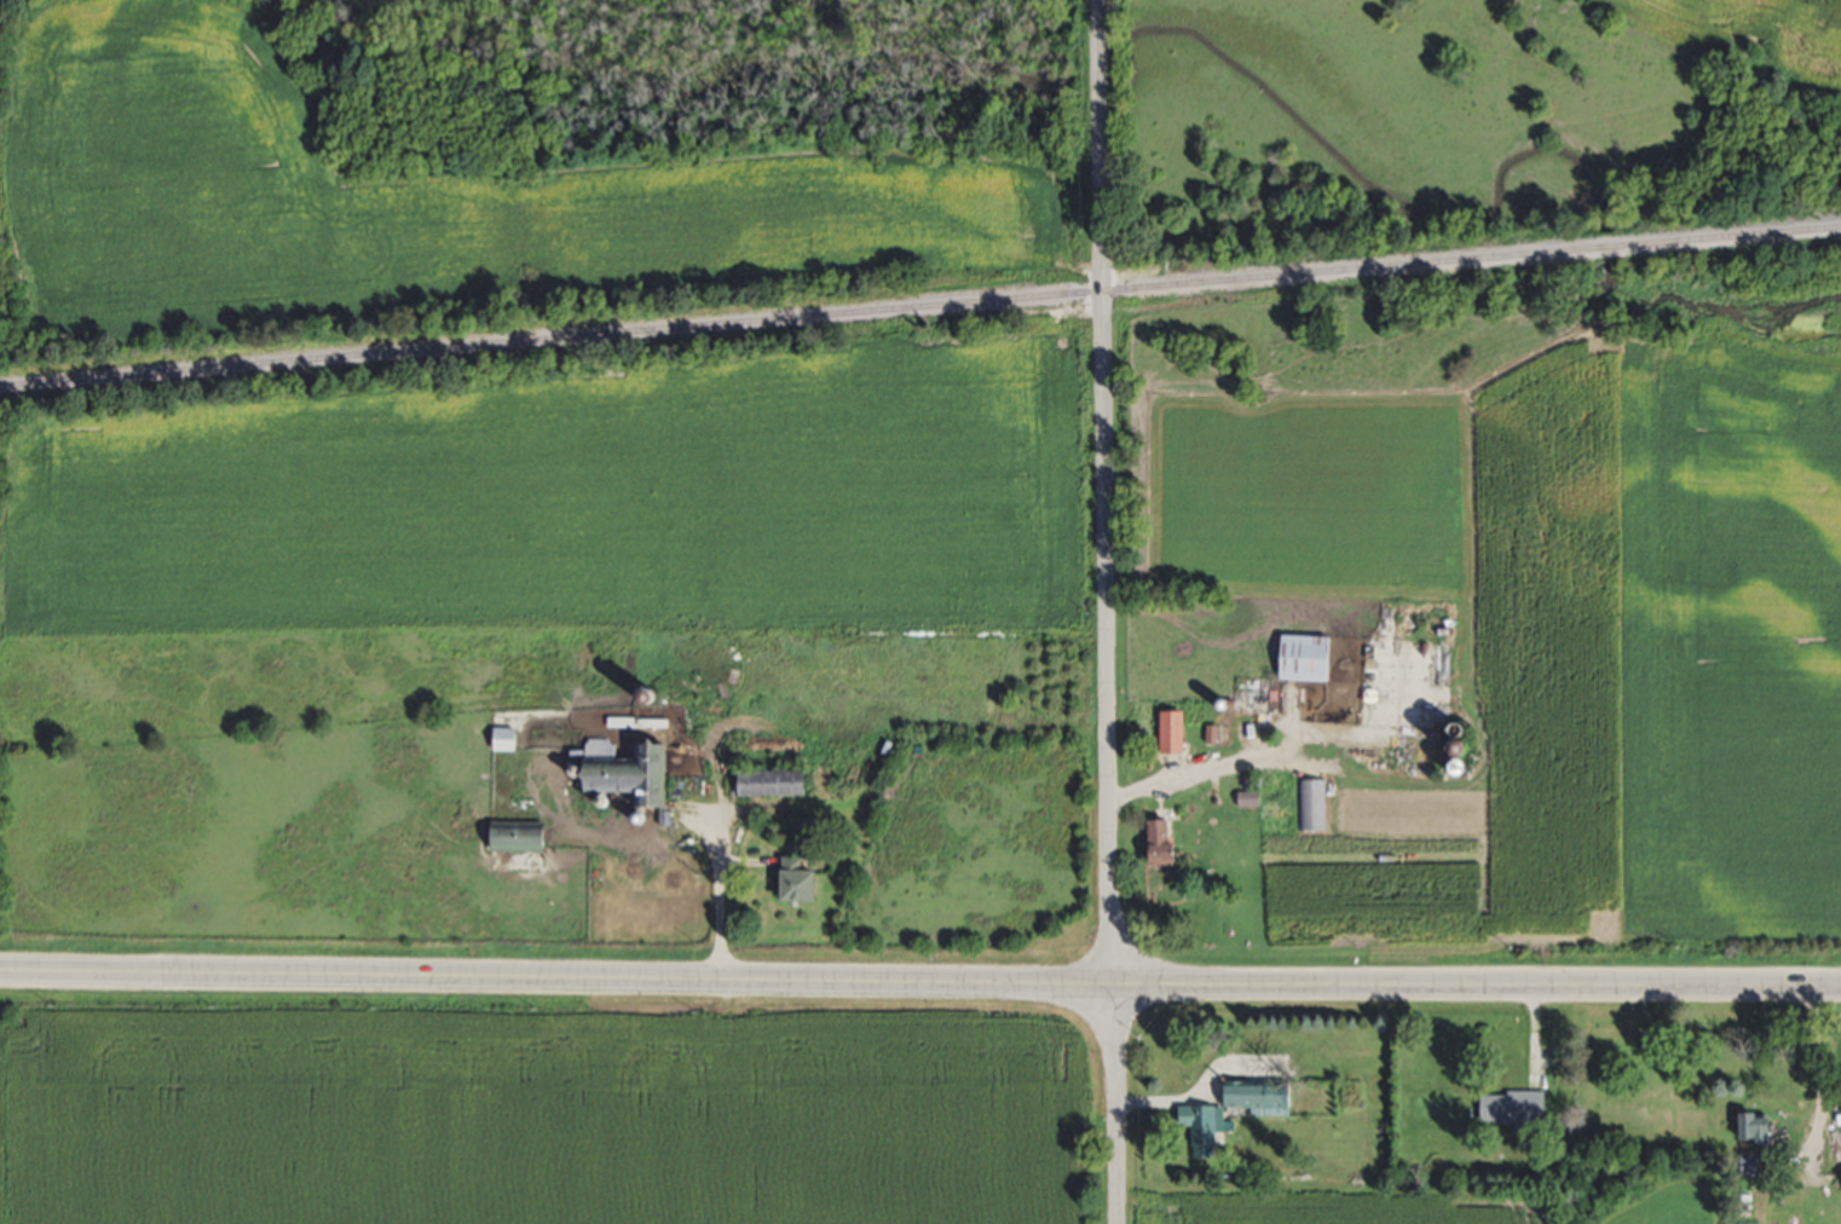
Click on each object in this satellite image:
crop: (428, 194)
railway: (919, 305)
road: (1104, 497)
building: (1310, 658)
building: (1177, 732)
building: (508, 739)
building: (628, 772)
building: (778, 783)
building: (1268, 799)
building: (1311, 804)
building: (523, 836)
building: (1170, 844)
building: (804, 881)
road: (716, 894)
road: (919, 986)
building: (1264, 1096)
building: (1518, 1107)
road: (1112, 1109)
building: (1206, 1130)
building: (1762, 1130)
road: (1816, 1134)
building: (1758, 1161)
building: (1748, 1223)

